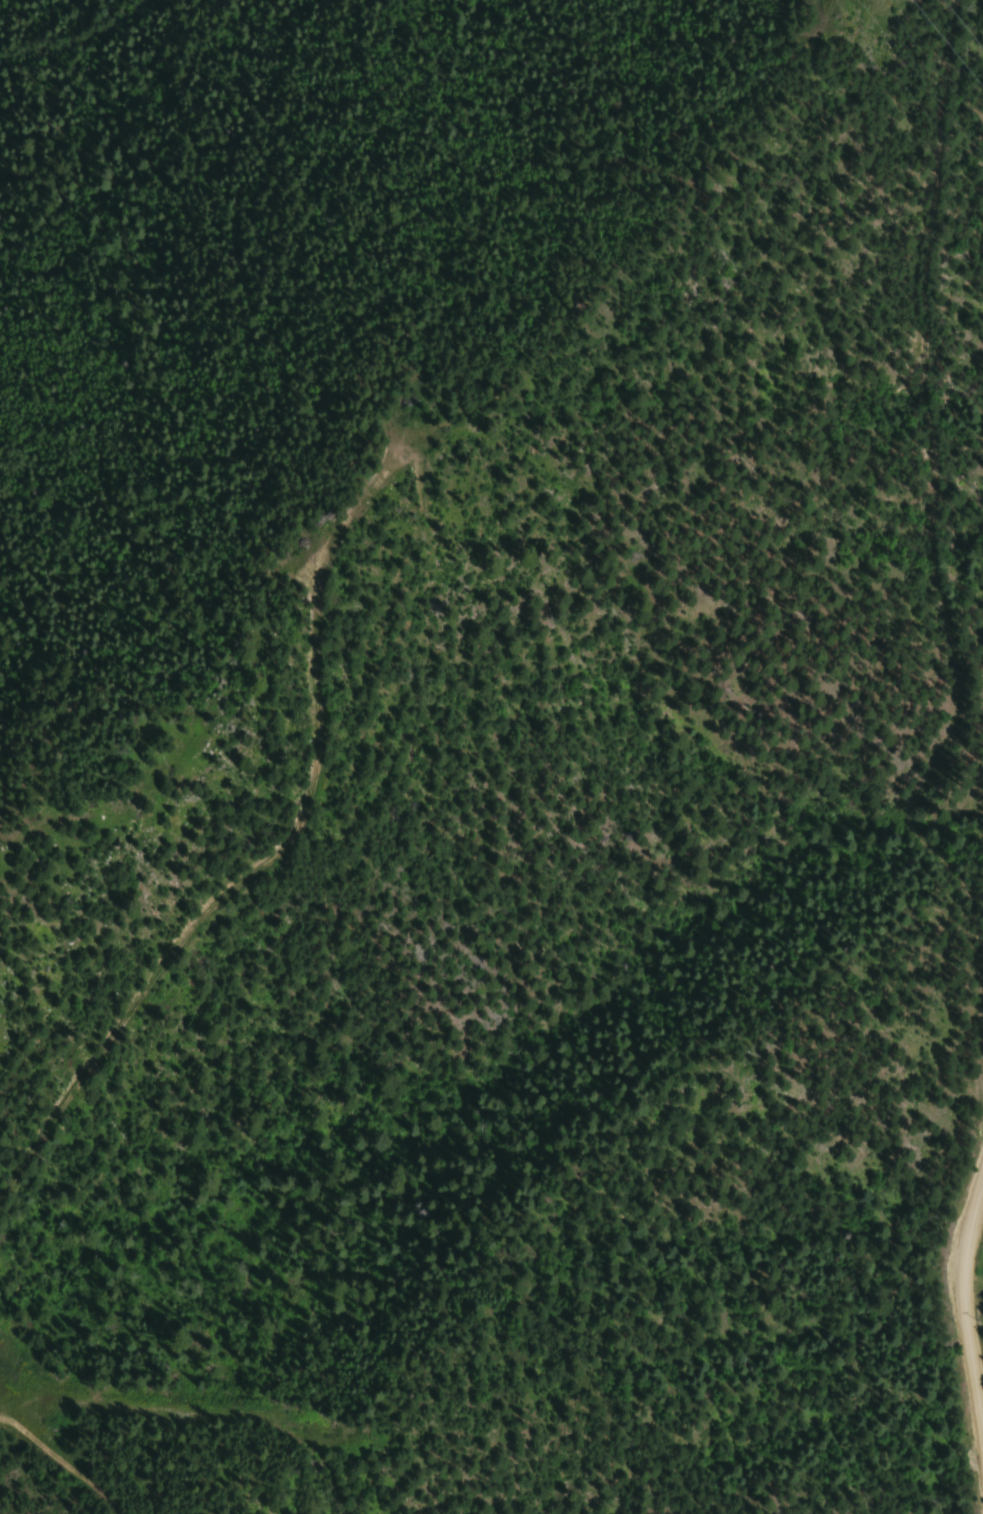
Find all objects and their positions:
road: (968, 1313)

